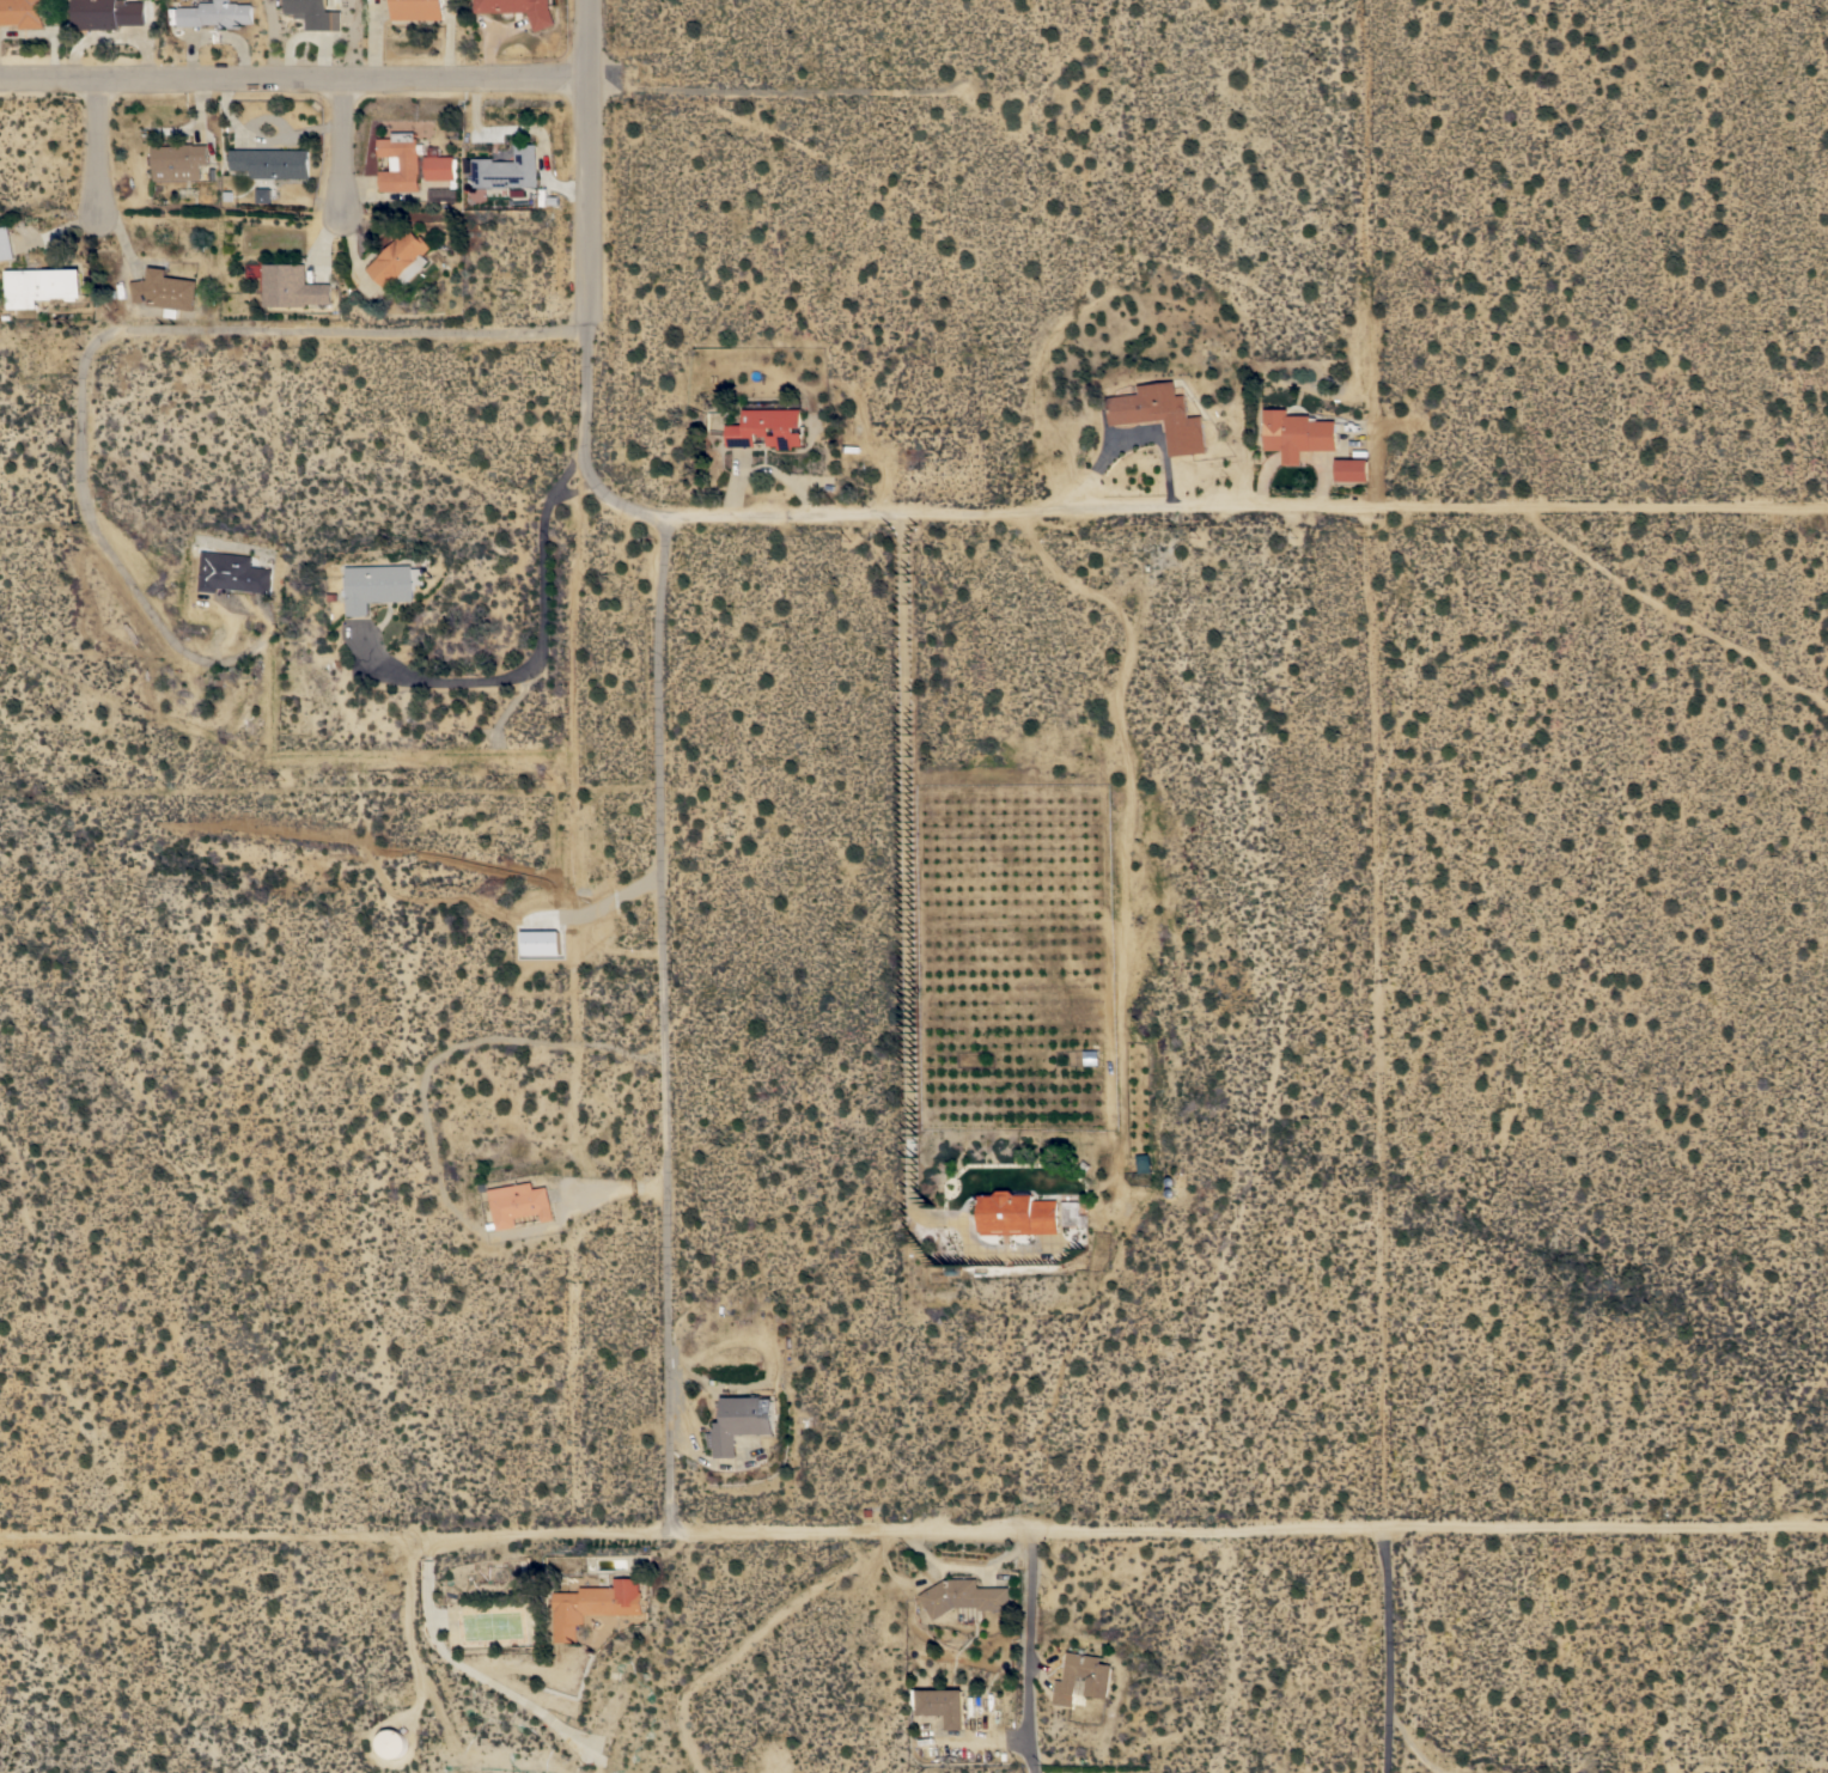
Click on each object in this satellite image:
building: (416, 10)
building: (520, 10)
building: (22, 12)
building: (106, 13)
building: (215, 13)
building: (315, 13)
road: (295, 77)
road: (349, 145)
road: (103, 146)
building: (179, 160)
building: (272, 162)
building: (401, 162)
building: (441, 169)
building: (508, 169)
building: (262, 194)
road: (592, 231)
building: (6, 243)
building: (401, 258)
building: (42, 285)
building: (292, 286)
building: (166, 291)
road: (121, 328)
building: (1162, 415)
building: (767, 428)
building: (1297, 433)
building: (1352, 470)
road: (626, 500)
road: (1249, 514)
building: (234, 573)
building: (380, 585)
road: (548, 656)
road: (910, 909)
building: (541, 942)
road: (670, 1026)
building: (1090, 1056)
road: (1382, 1145)
building: (1142, 1164)
building: (518, 1204)
building: (1017, 1214)
building: (1073, 1214)
building: (739, 1422)
road: (914, 1533)
road: (965, 1567)
building: (963, 1596)
building: (595, 1604)
road: (751, 1637)
road: (1030, 1652)
building: (1097, 1678)
building: (943, 1706)
building: (390, 1743)
road: (1412, 1745)

